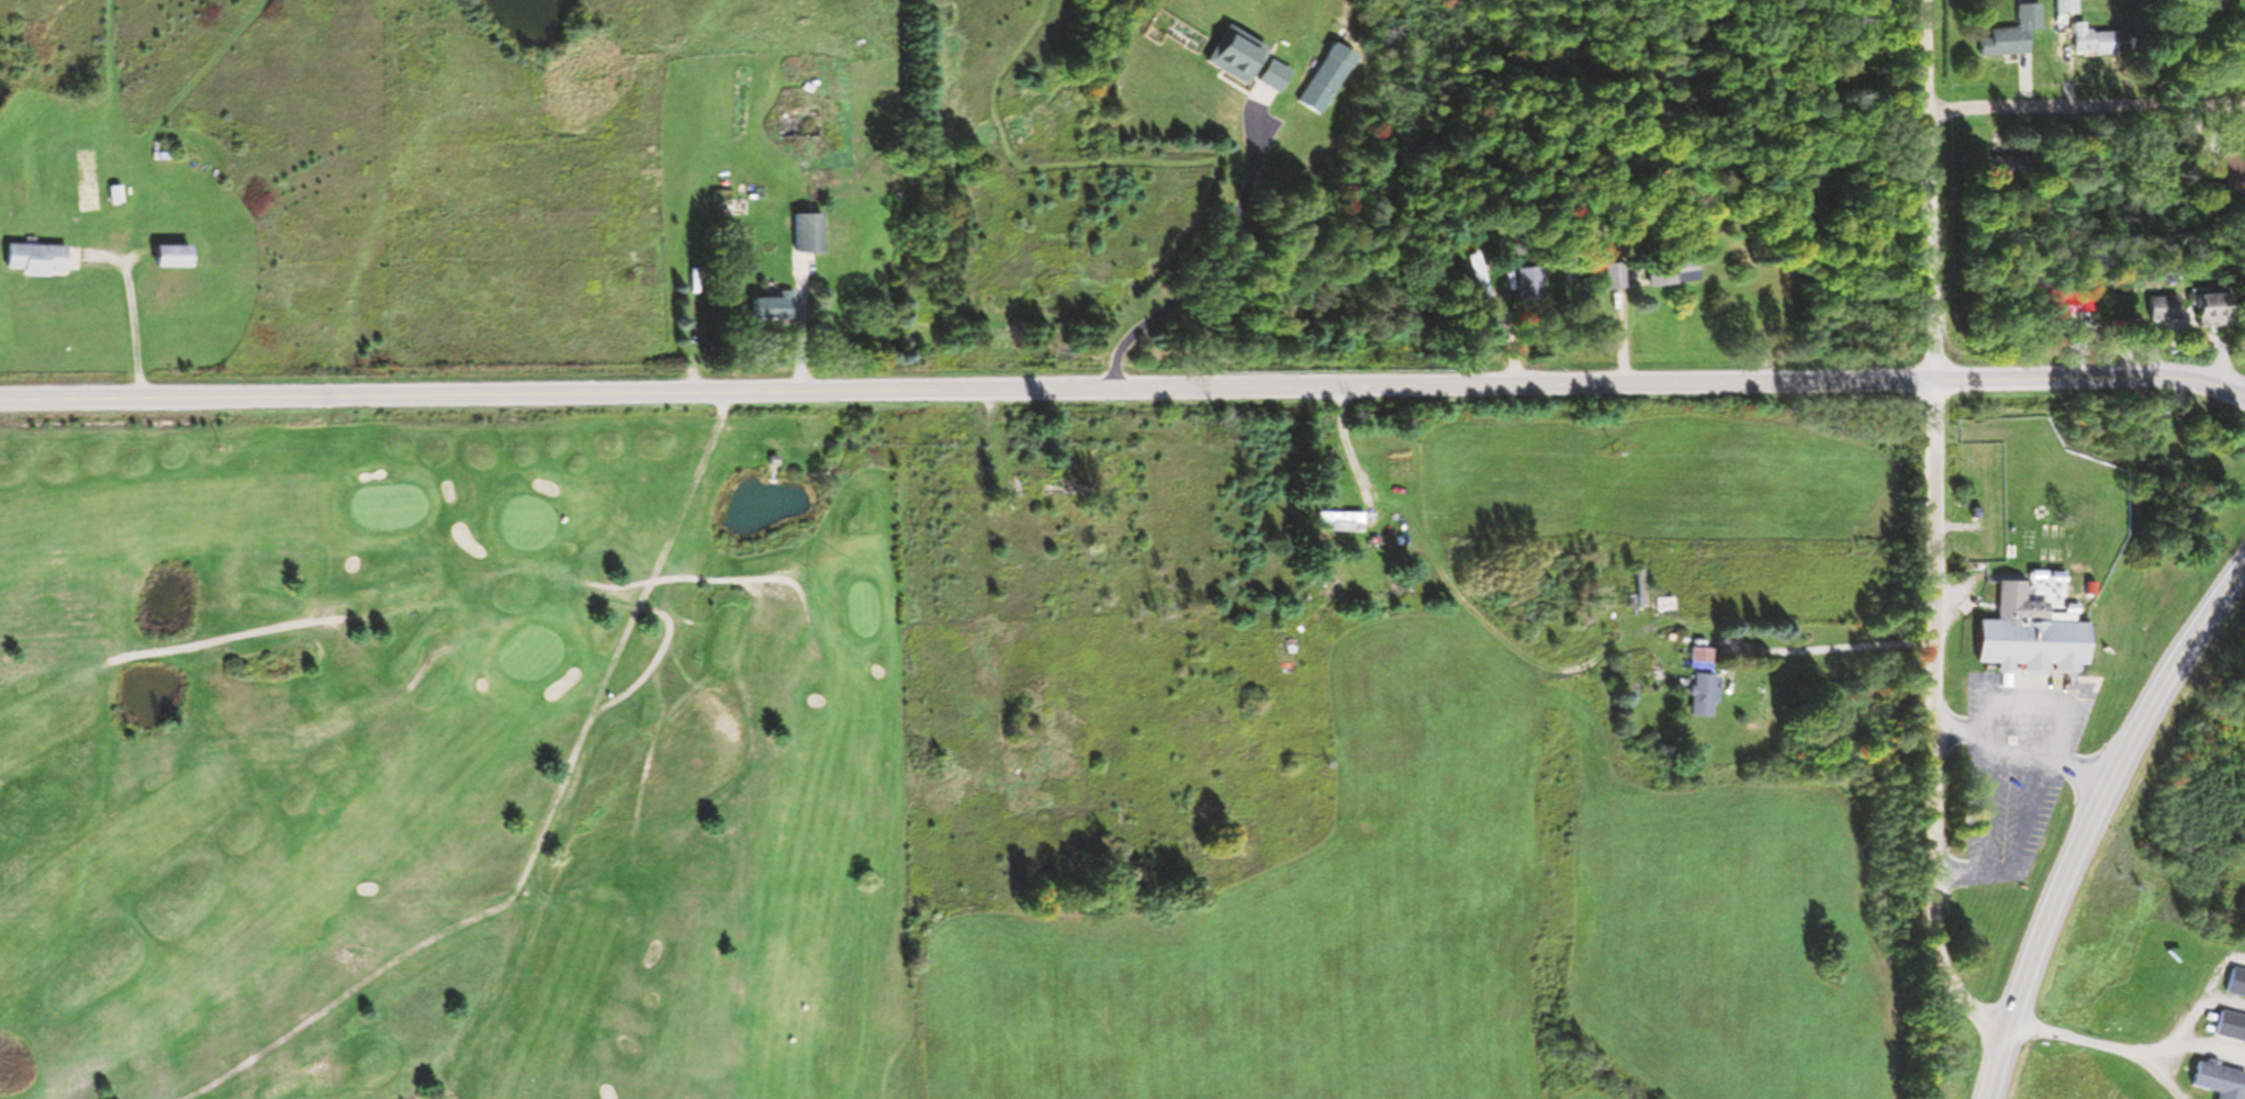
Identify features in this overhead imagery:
building: (2067, 7)
building: (2012, 33)
building: (2095, 40)
building: (1238, 54)
building: (1277, 76)
building: (1325, 83)
road: (2087, 104)
building: (810, 233)
building: (176, 255)
building: (40, 257)
building: (1675, 272)
building: (1480, 276)
building: (1618, 279)
building: (1533, 281)
building: (777, 305)
building: (2176, 305)
road: (1123, 386)
building: (1068, 486)
building: (1344, 516)
road: (1934, 531)
building: (1642, 586)
building: (2033, 635)
building: (1705, 682)
park: (453, 756)
road: (2104, 794)
building: (2236, 982)
building: (2231, 1027)
road: (1993, 1070)
building: (2222, 1080)

